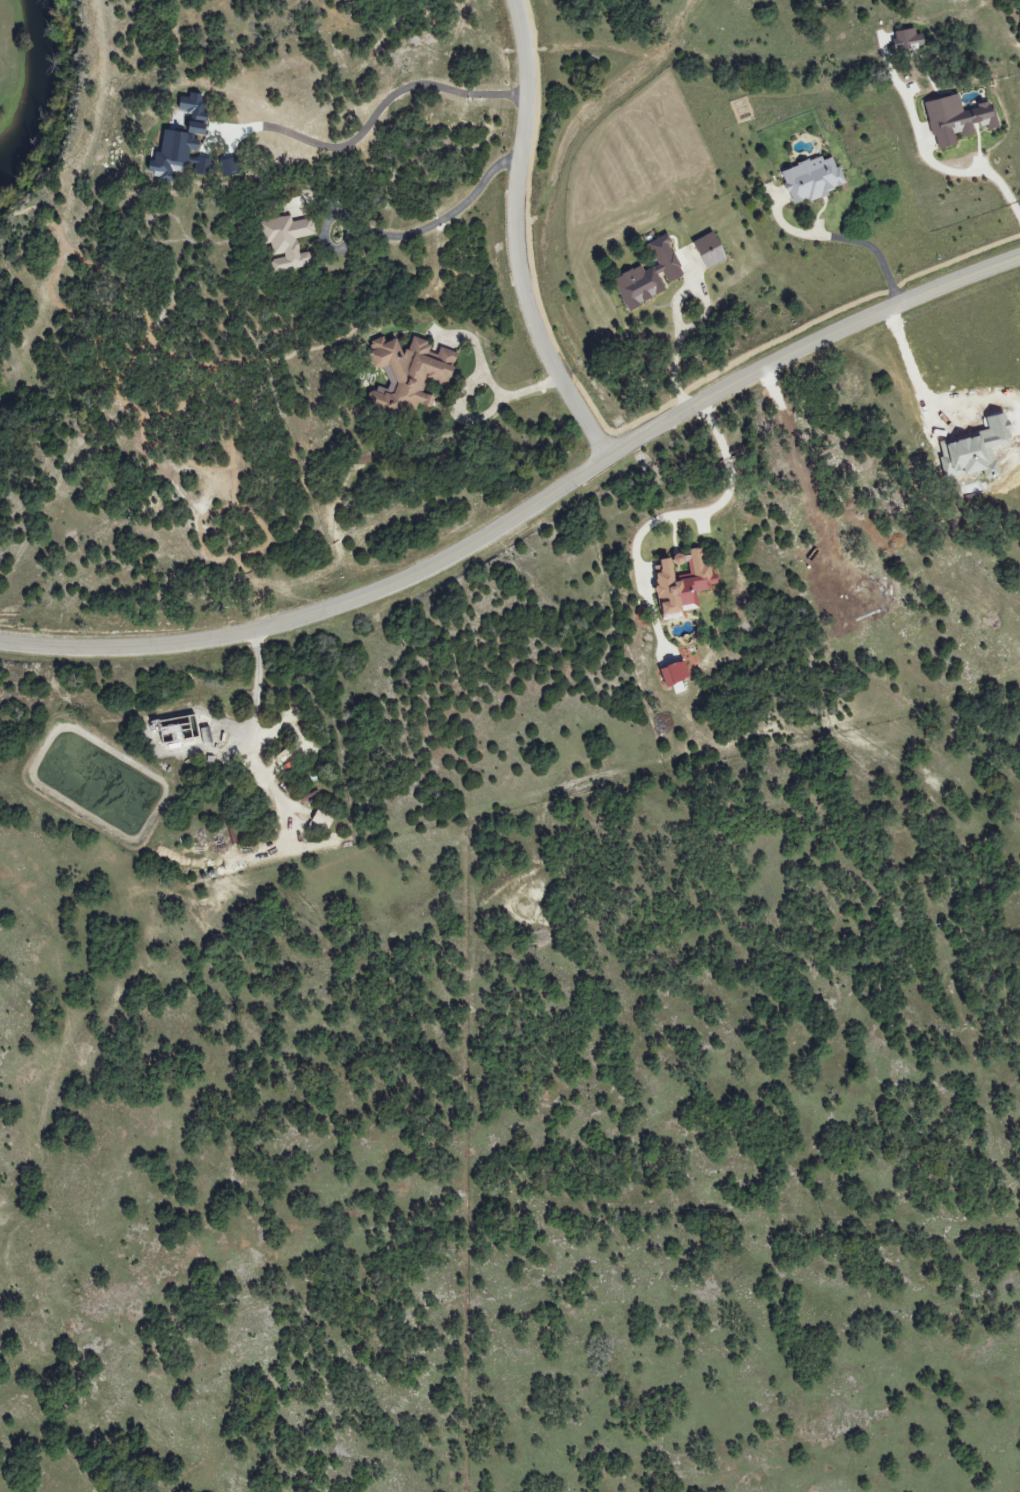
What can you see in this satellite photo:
building: (908, 40)
park: (34, 86)
road: (376, 110)
building: (956, 119)
building: (182, 143)
road: (974, 164)
building: (229, 167)
building: (812, 179)
road: (396, 236)
road: (847, 239)
road: (516, 240)
building: (286, 242)
building: (709, 249)
building: (649, 274)
road: (676, 361)
building: (410, 370)
road: (508, 396)
road: (458, 419)
road: (731, 477)
road: (527, 511)
building: (682, 581)
building: (674, 672)

